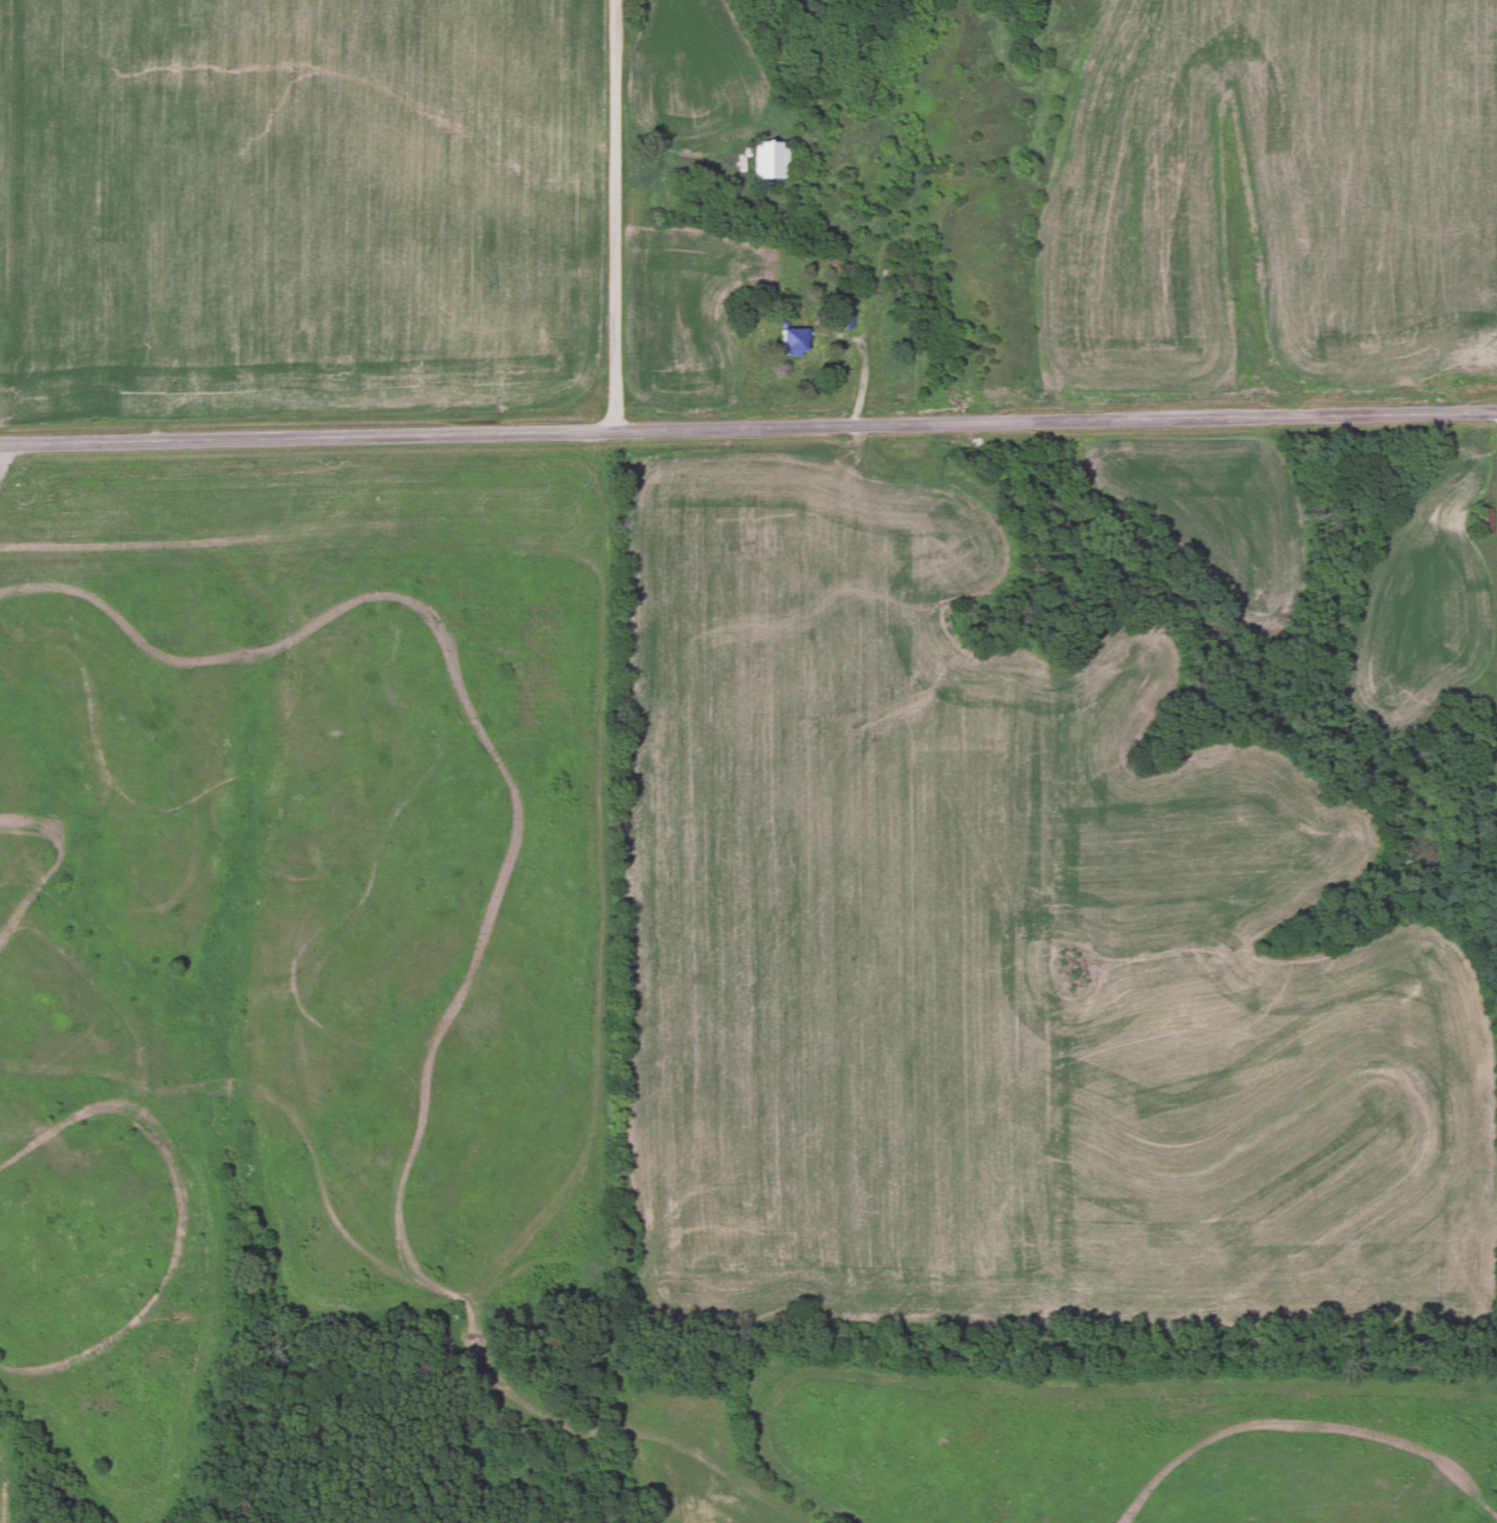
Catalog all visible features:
building: (770, 158)
road: (617, 216)
building: (843, 319)
building: (794, 340)
road: (869, 369)
road: (748, 429)

